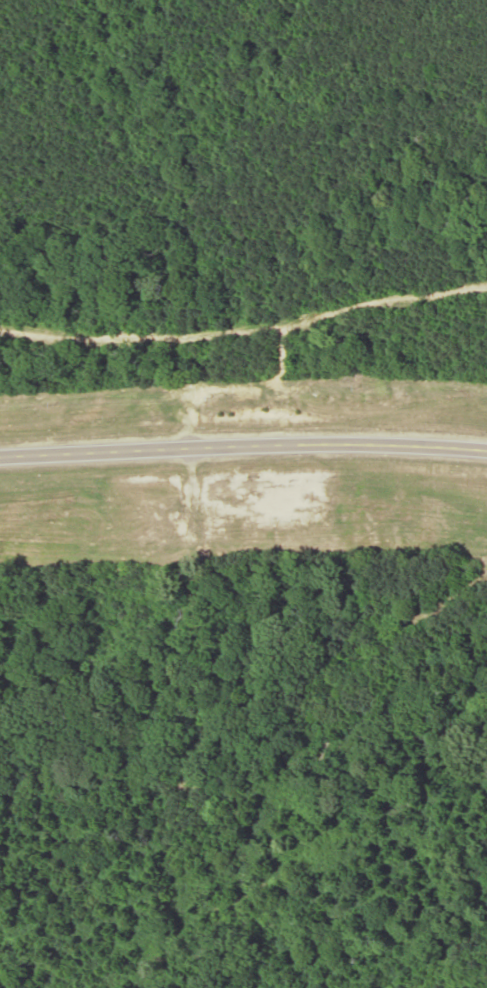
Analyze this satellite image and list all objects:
road: (243, 444)

